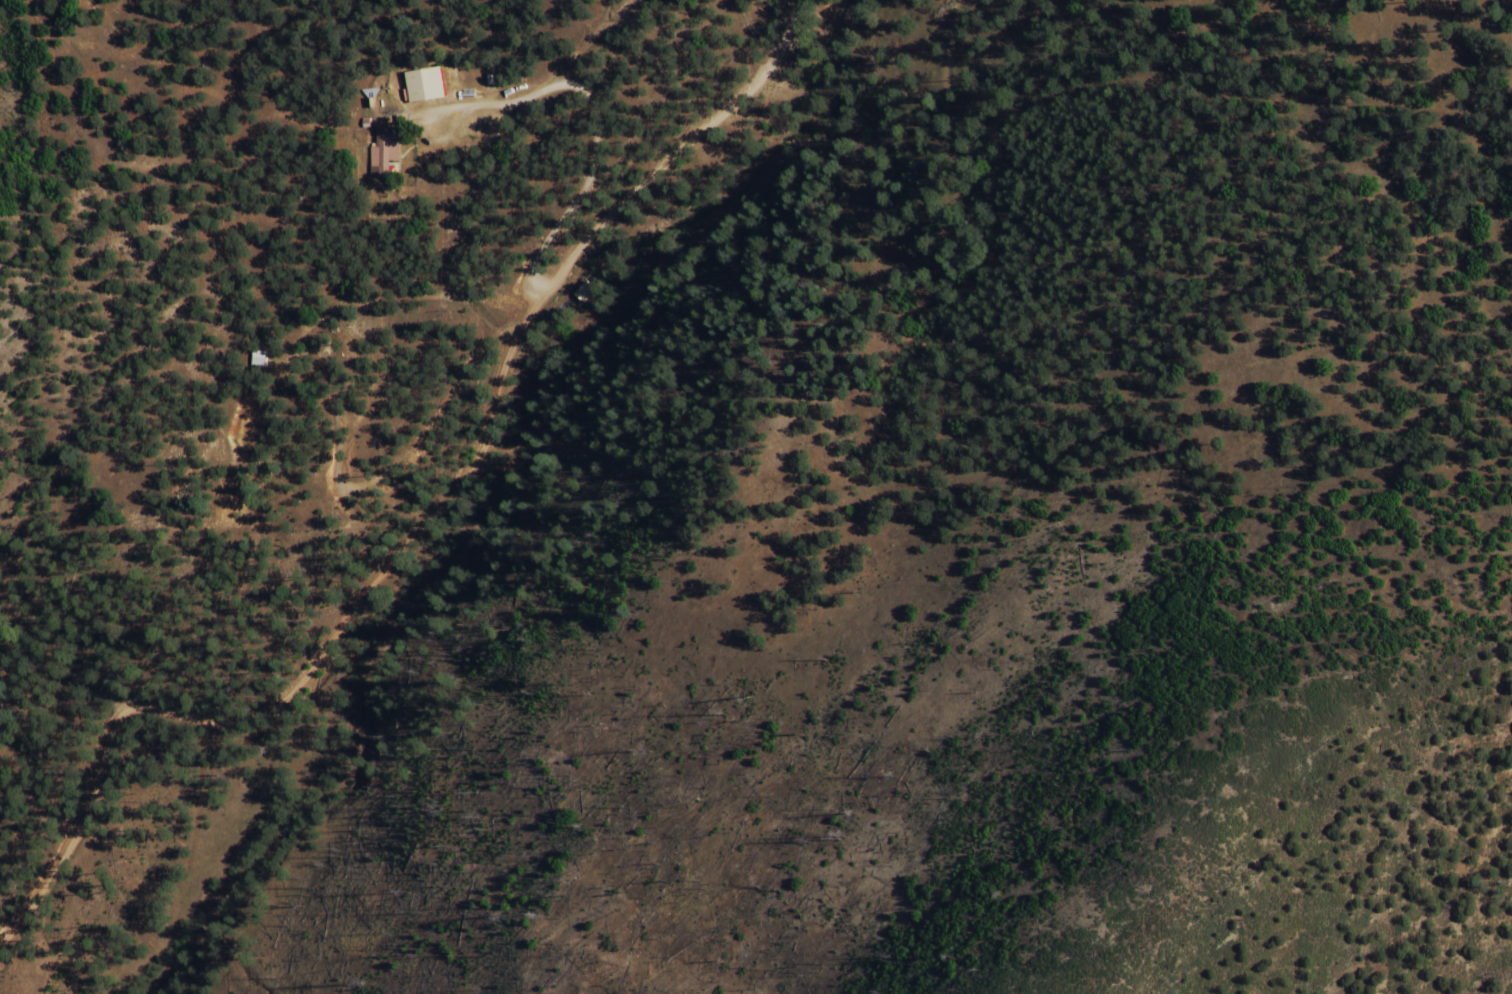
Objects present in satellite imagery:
road: (1446, 14)
building: (425, 85)
road: (564, 104)
building: (384, 152)
road: (424, 523)

